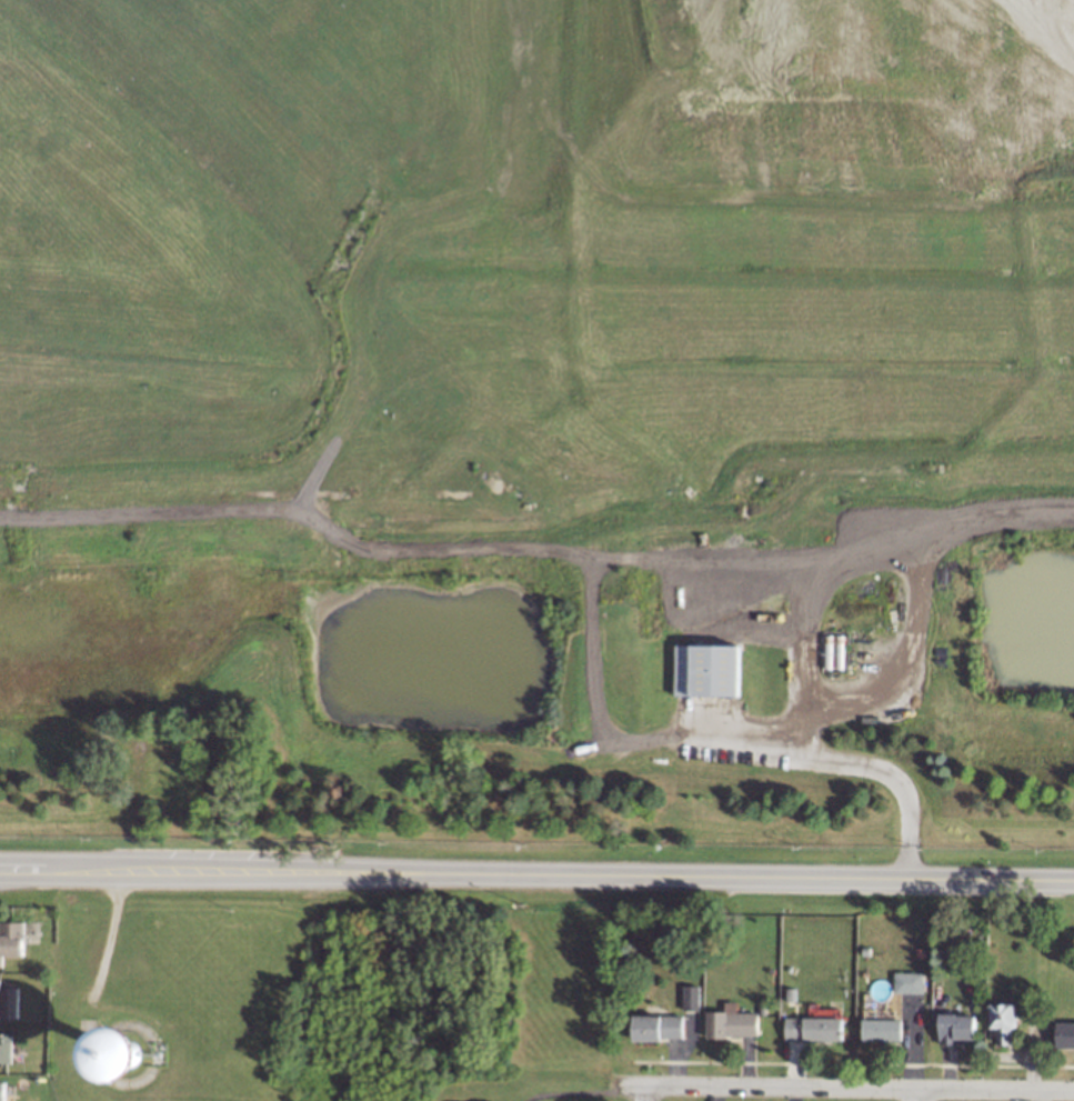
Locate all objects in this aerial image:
landfill: (533, 286)
road: (816, 591)
road: (910, 604)
building: (706, 670)
road: (854, 763)
road: (536, 874)
building: (12, 939)
building: (912, 981)
building: (693, 997)
building: (9, 1001)
building: (734, 1022)
building: (1006, 1023)
building: (659, 1027)
building: (816, 1028)
building: (961, 1028)
building: (885, 1029)
building: (1066, 1034)
building: (8, 1048)
water tower: (123, 1053)
building: (127, 1053)
road: (846, 1089)
building: (3, 1090)
road: (646, 1093)
road: (924, 1095)

